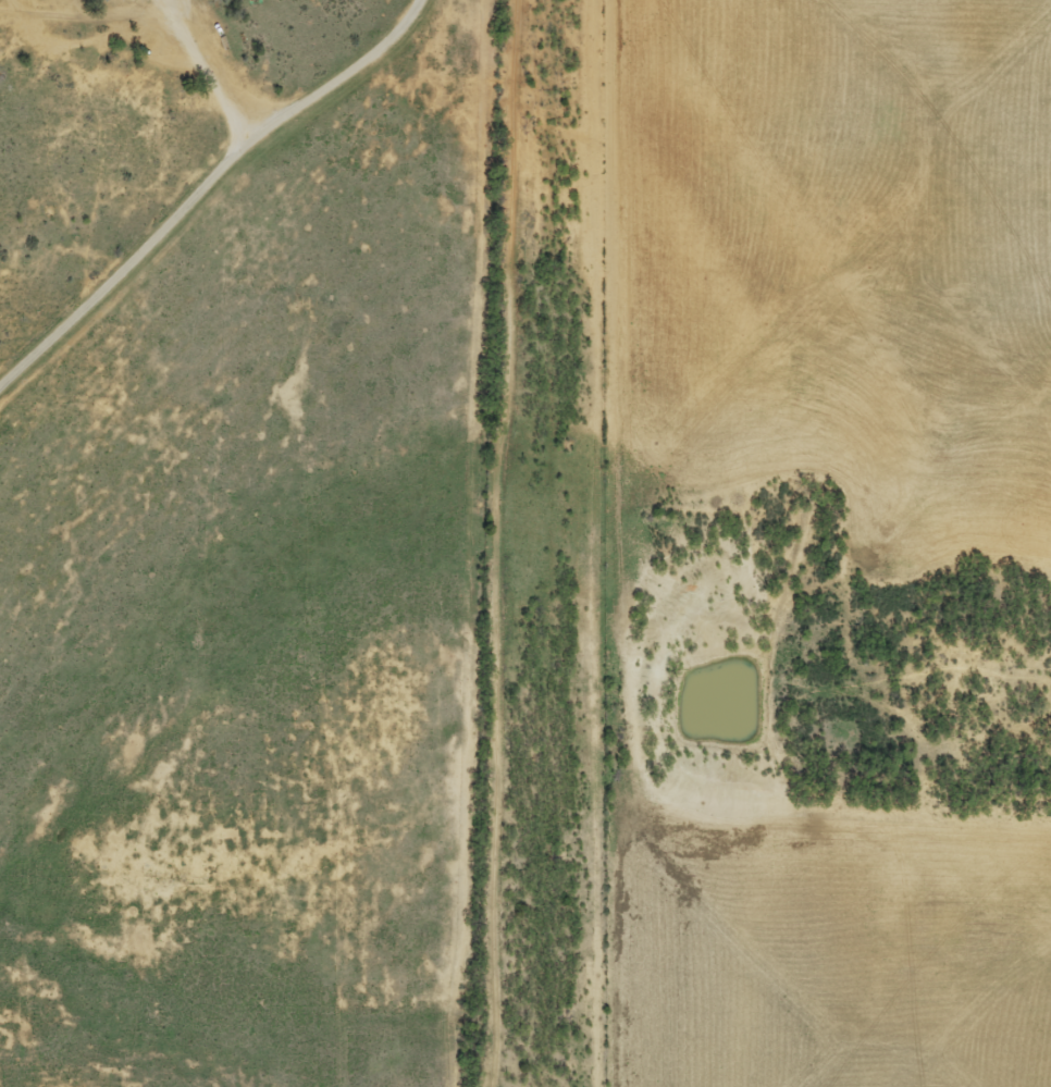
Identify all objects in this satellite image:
road: (202, 174)
road: (537, 543)

